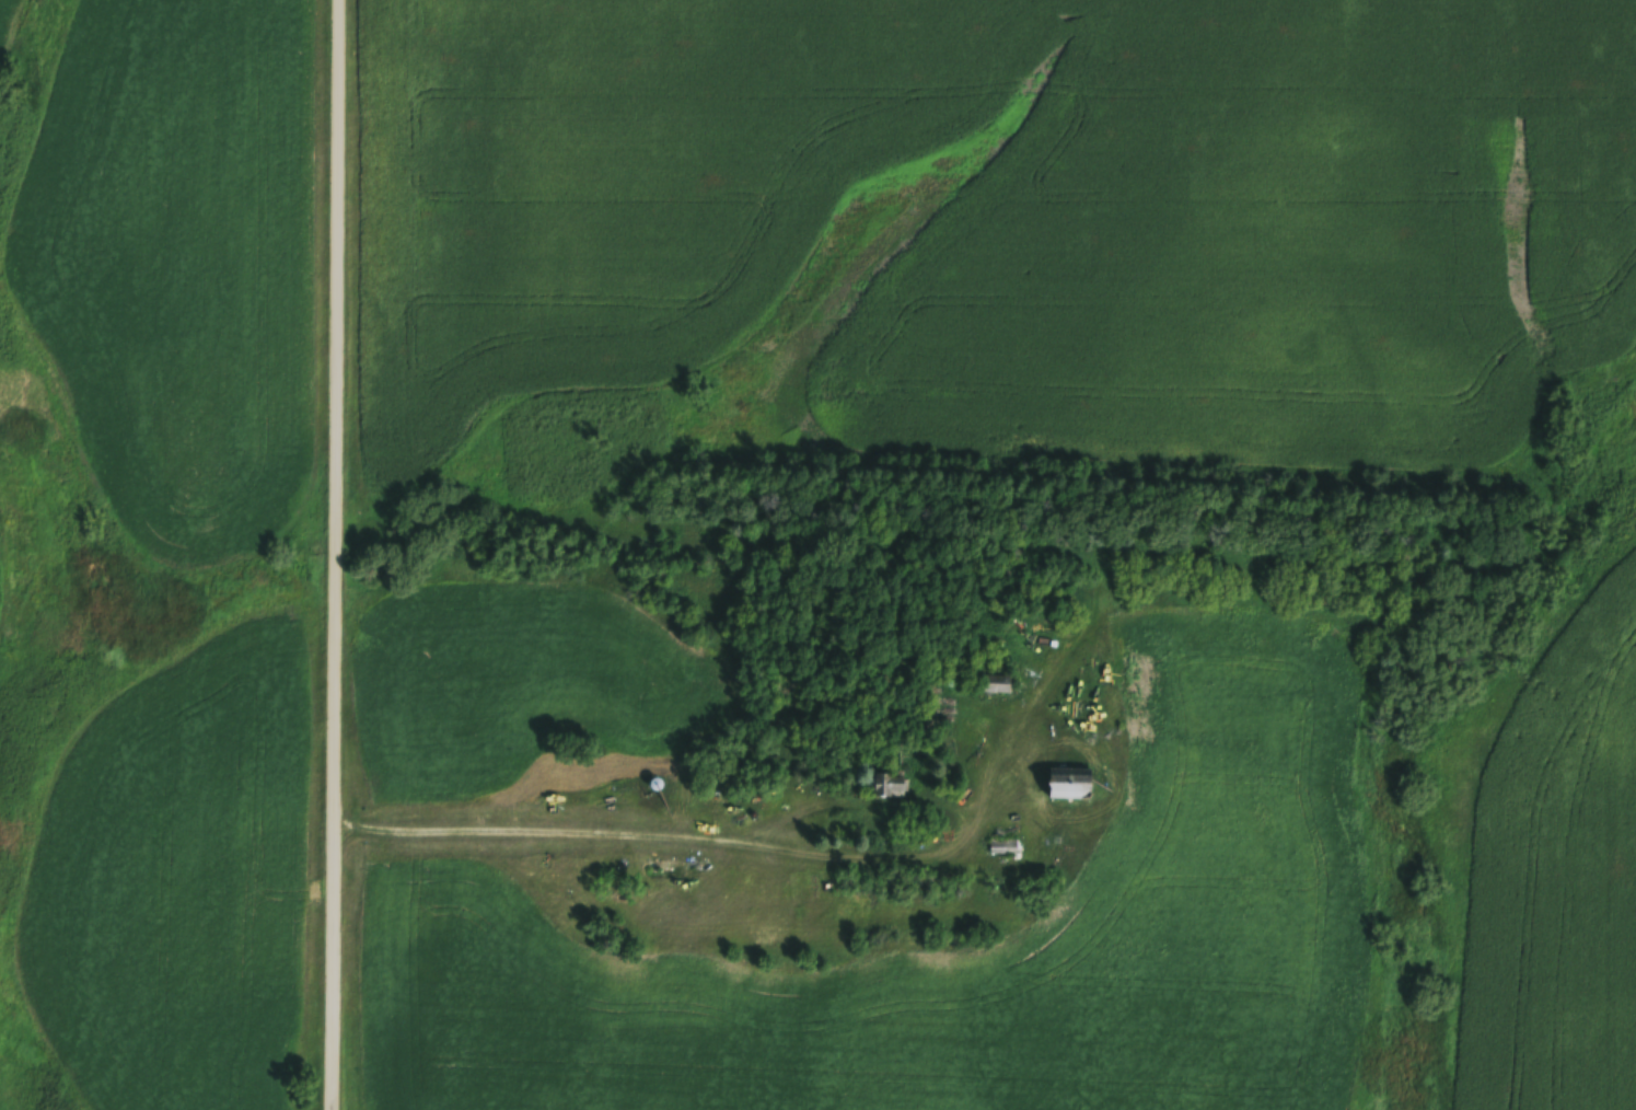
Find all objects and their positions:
road: (339, 555)
building: (995, 692)
building: (1069, 786)
building: (883, 789)
road: (709, 836)

